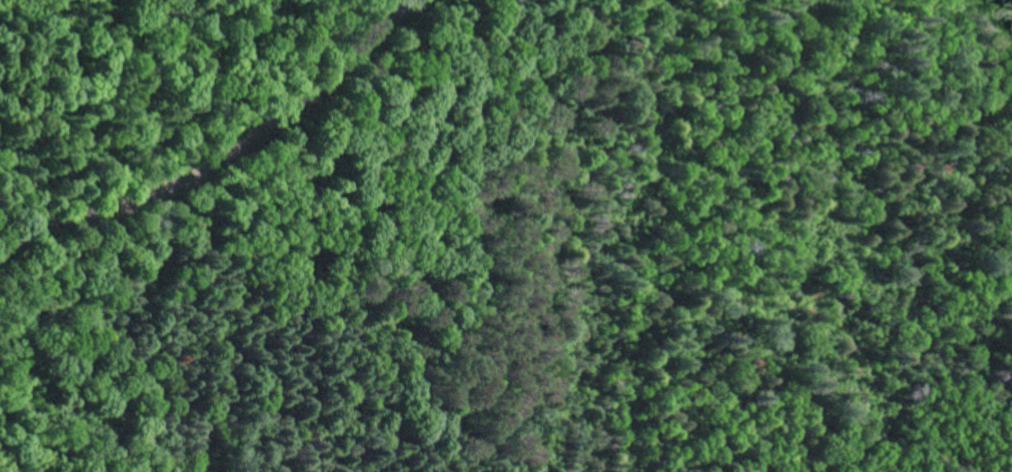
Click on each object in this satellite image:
road: (219, 163)

